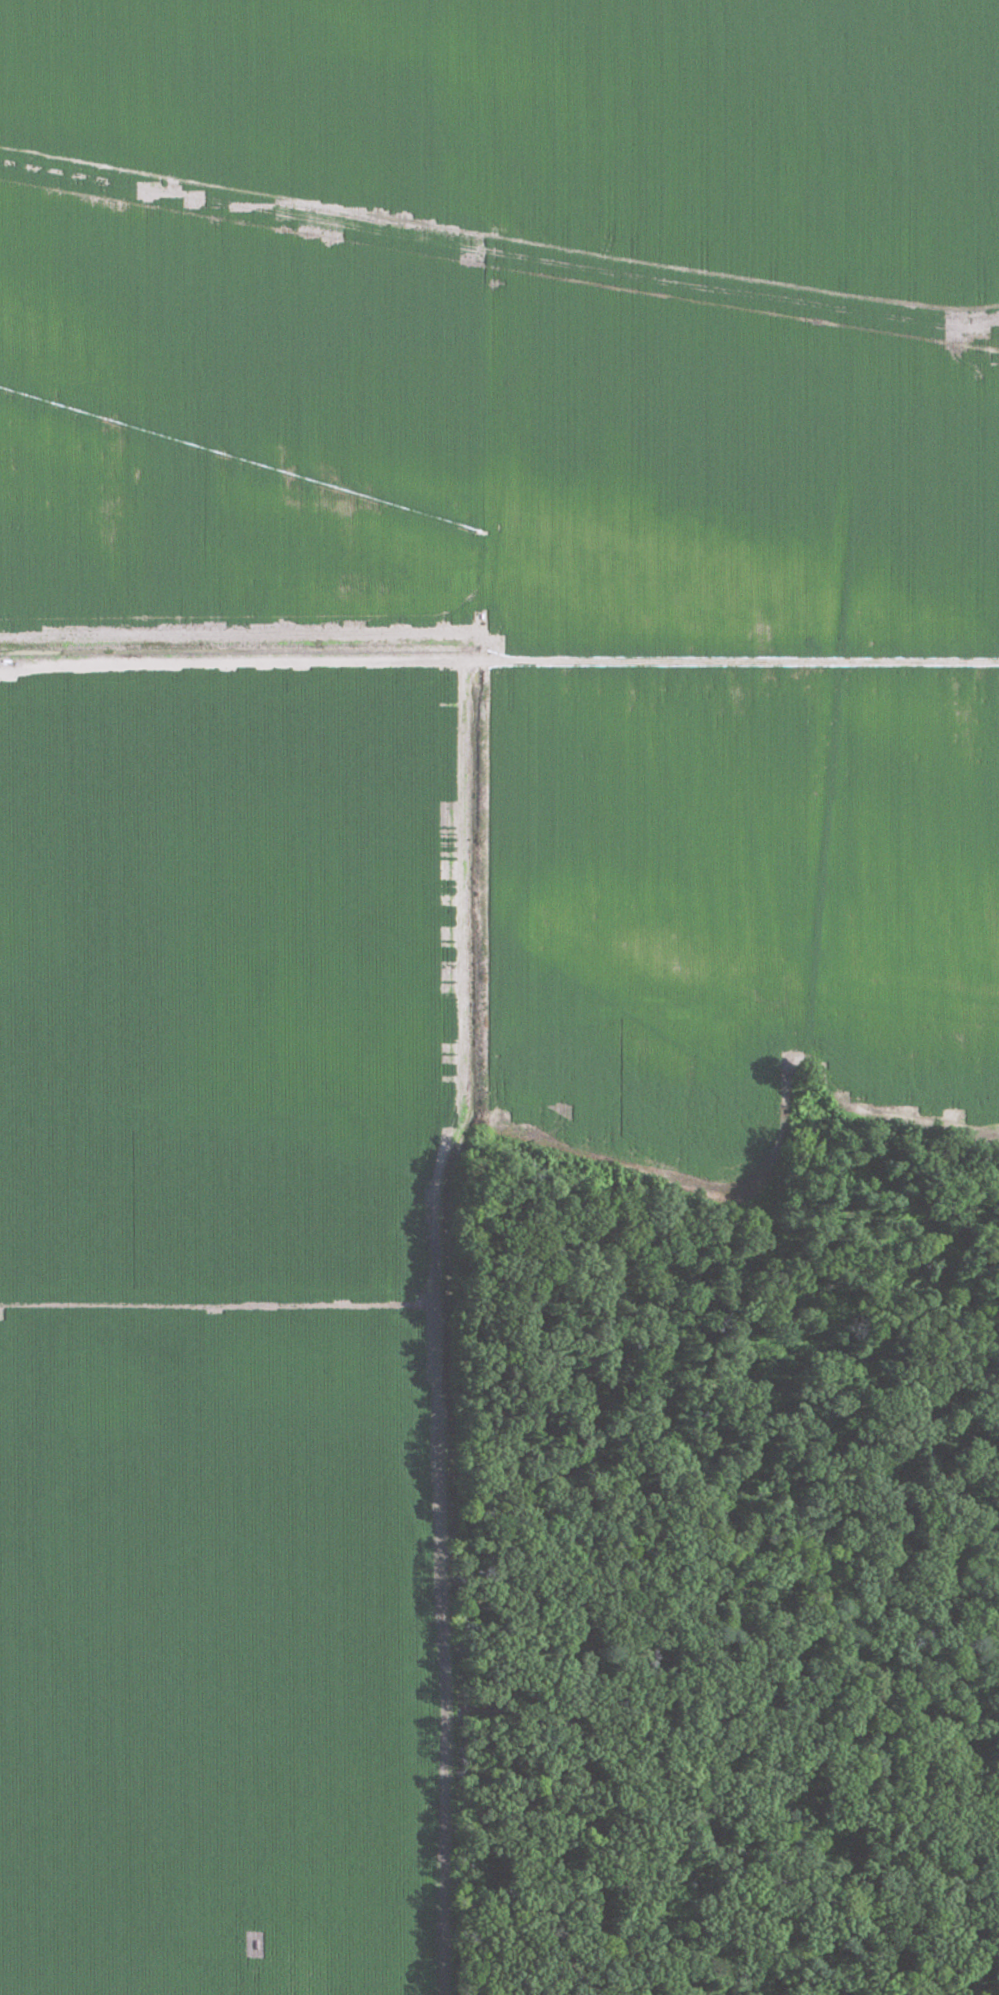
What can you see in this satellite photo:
road: (252, 662)

